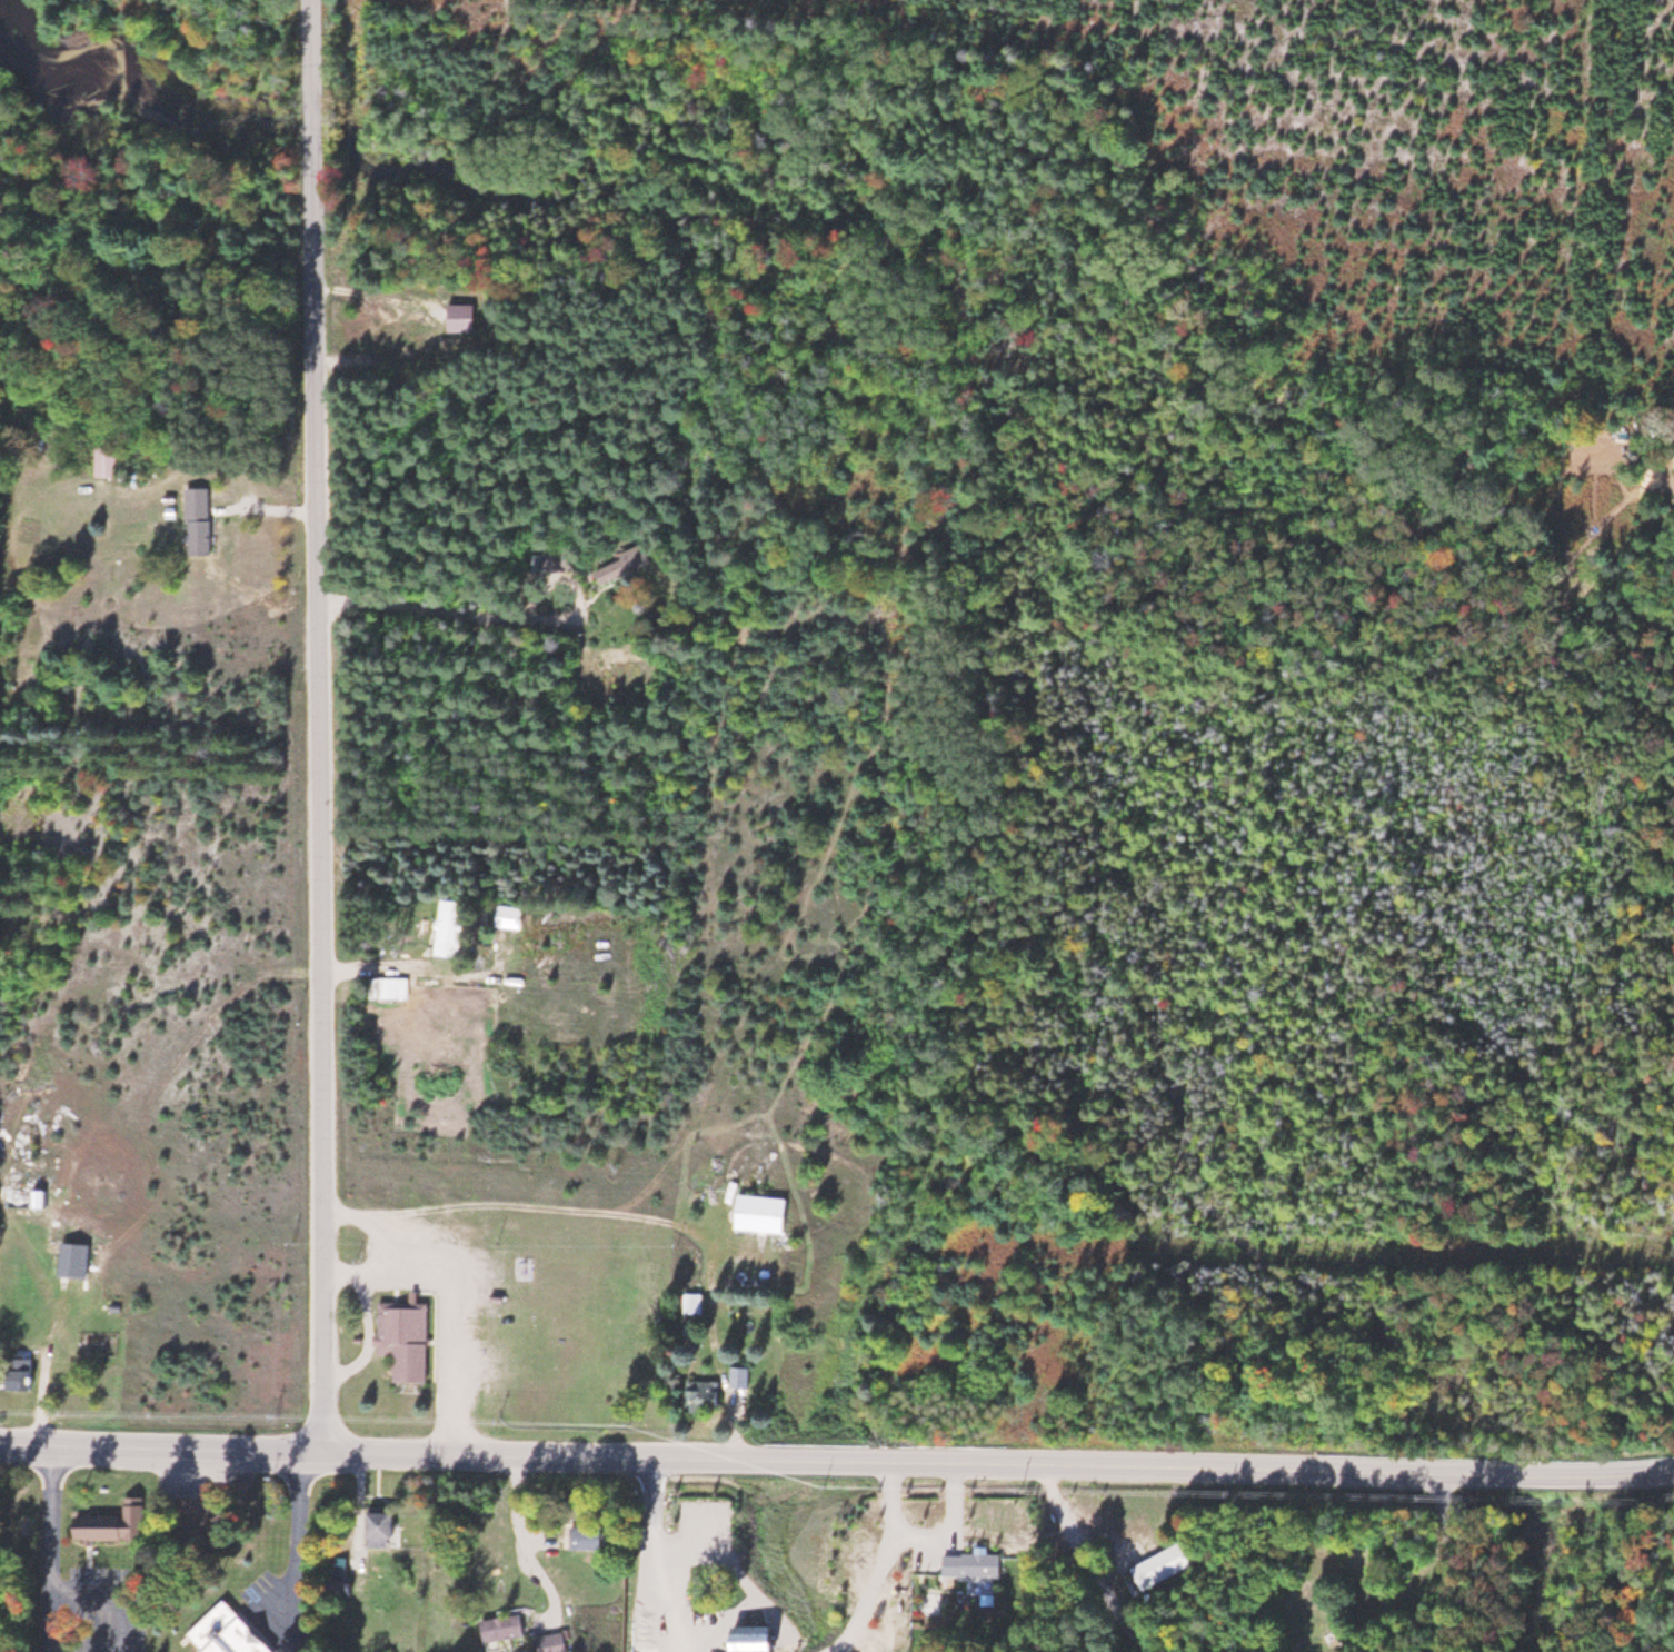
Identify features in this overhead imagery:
road: (312, 78)
building: (469, 317)
building: (420, 334)
building: (111, 459)
building: (203, 520)
building: (557, 559)
building: (629, 565)
road: (325, 805)
building: (455, 928)
building: (392, 988)
building: (768, 1213)
building: (76, 1261)
road: (371, 1288)
road: (454, 1303)
building: (695, 1303)
building: (405, 1335)
building: (741, 1376)
building: (705, 1395)
road: (165, 1447)
road: (585, 1457)
road: (1169, 1470)
road: (1626, 1471)
road: (1540, 1474)
road: (1052, 1494)
road: (945, 1503)
building: (201, 1515)
building: (116, 1520)
building: (379, 1523)
road: (51, 1546)
road: (301, 1553)
building: (974, 1563)
road: (1452, 1563)
building: (1163, 1565)
building: (340, 1579)
road: (118, 1622)
building: (504, 1628)
building: (233, 1632)
building: (757, 1639)
building: (554, 1642)

